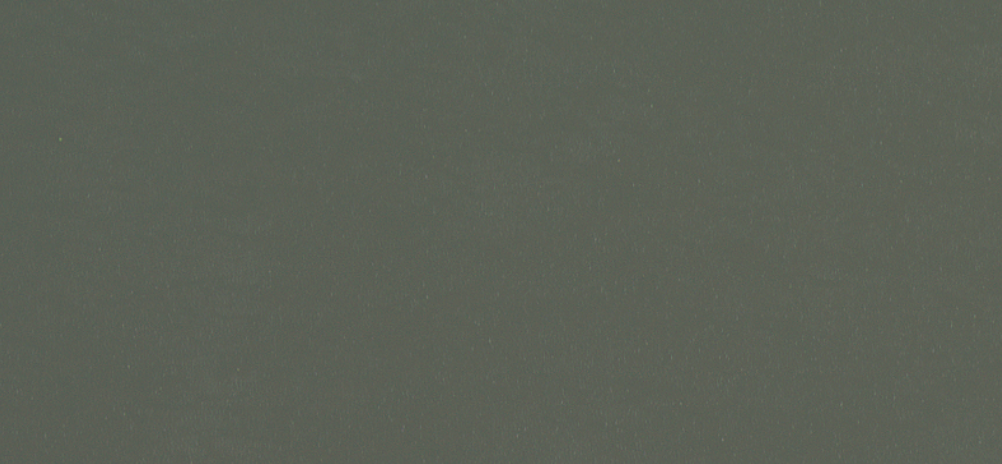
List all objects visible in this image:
river: (186, 58)

